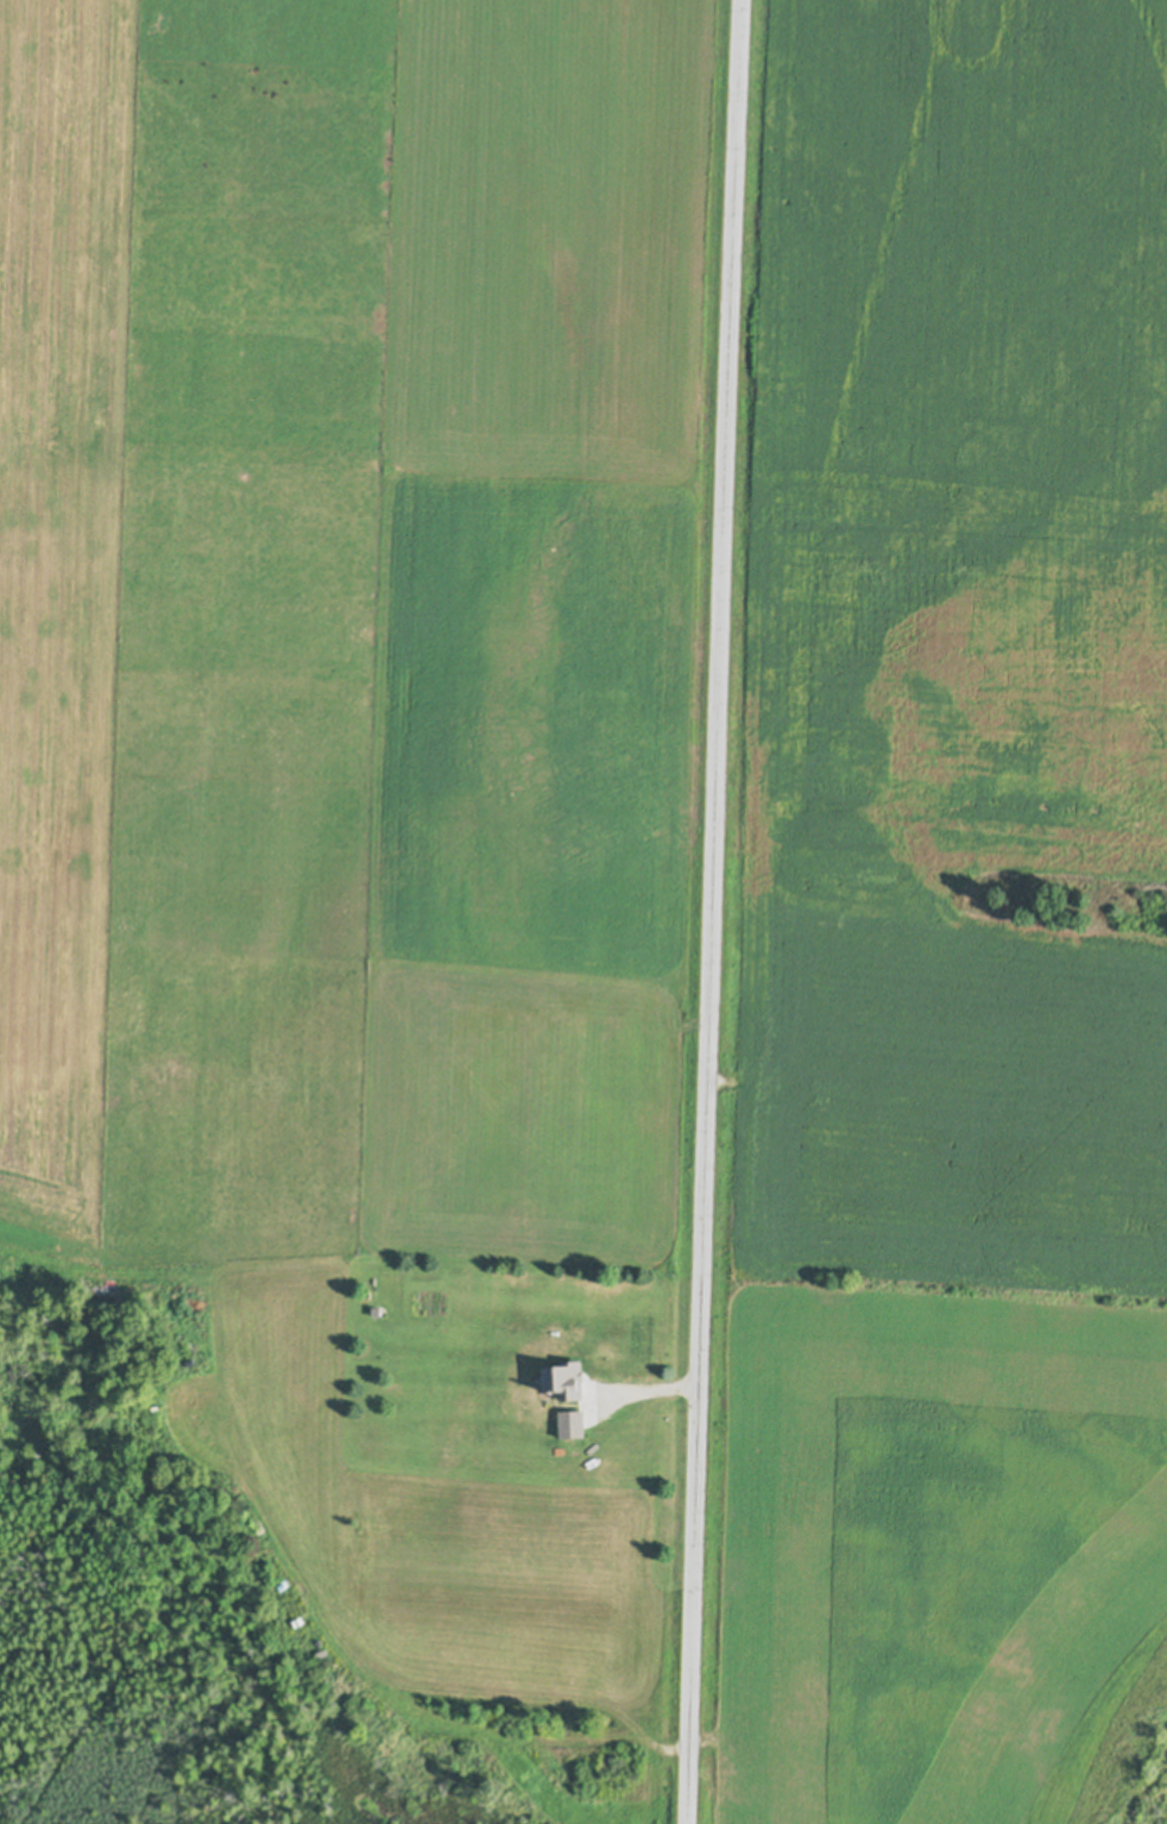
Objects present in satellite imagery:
road: (713, 911)
crop: (950, 931)
building: (564, 1382)
building: (570, 1424)

